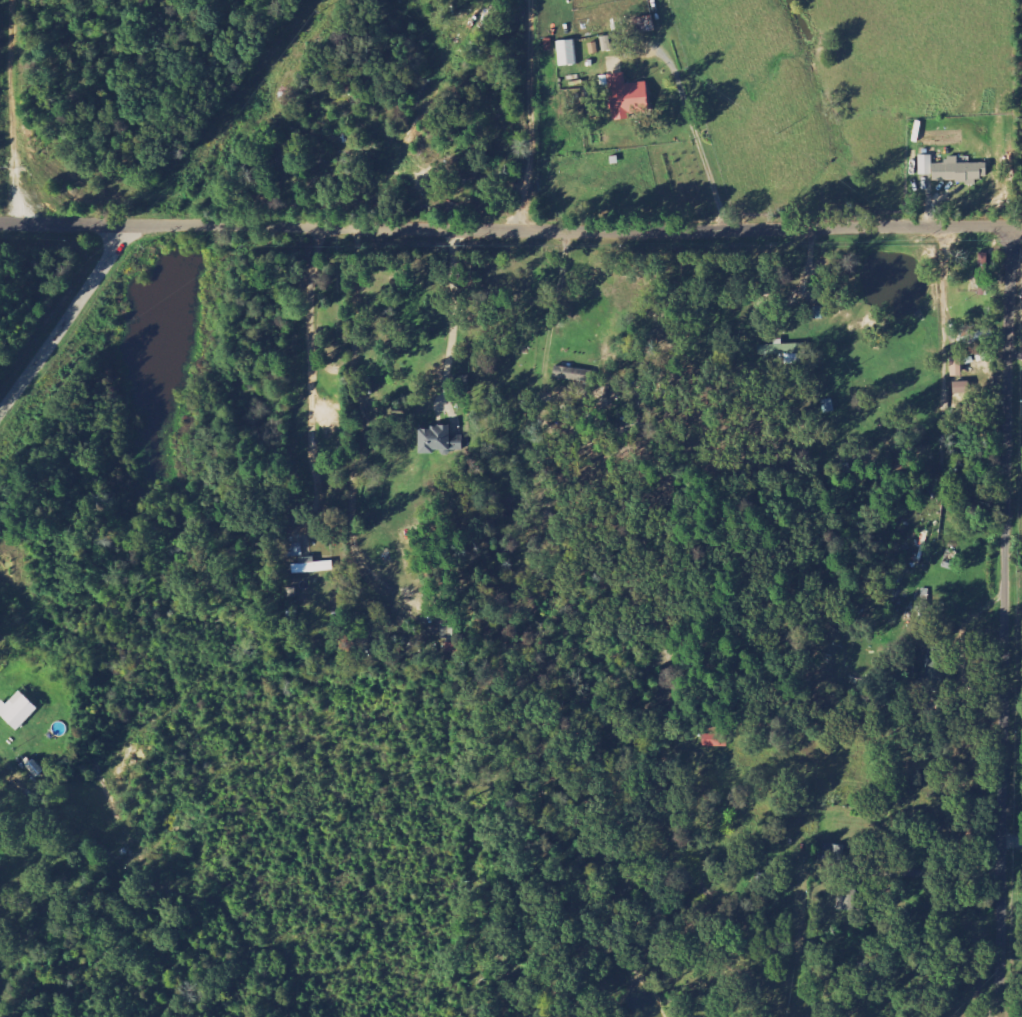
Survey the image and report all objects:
building: (608, 42)
building: (567, 53)
building: (624, 96)
building: (952, 170)
road: (511, 230)
road: (65, 317)
building: (573, 374)
road: (312, 379)
building: (567, 413)
building: (433, 440)
building: (311, 567)
road: (1006, 621)
building: (17, 712)
building: (714, 741)

